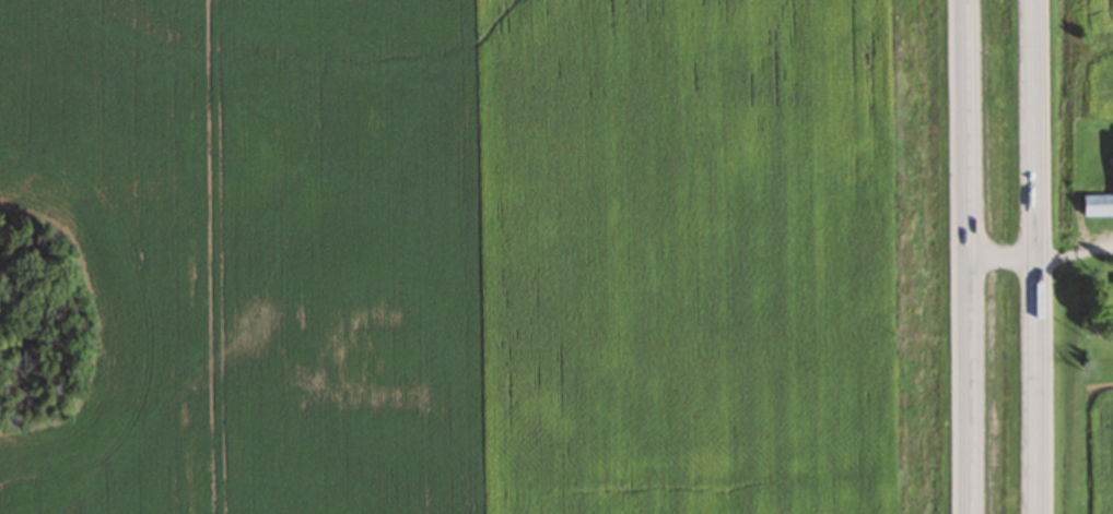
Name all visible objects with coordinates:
building: (1098, 205)
road: (970, 256)
road: (1034, 256)

